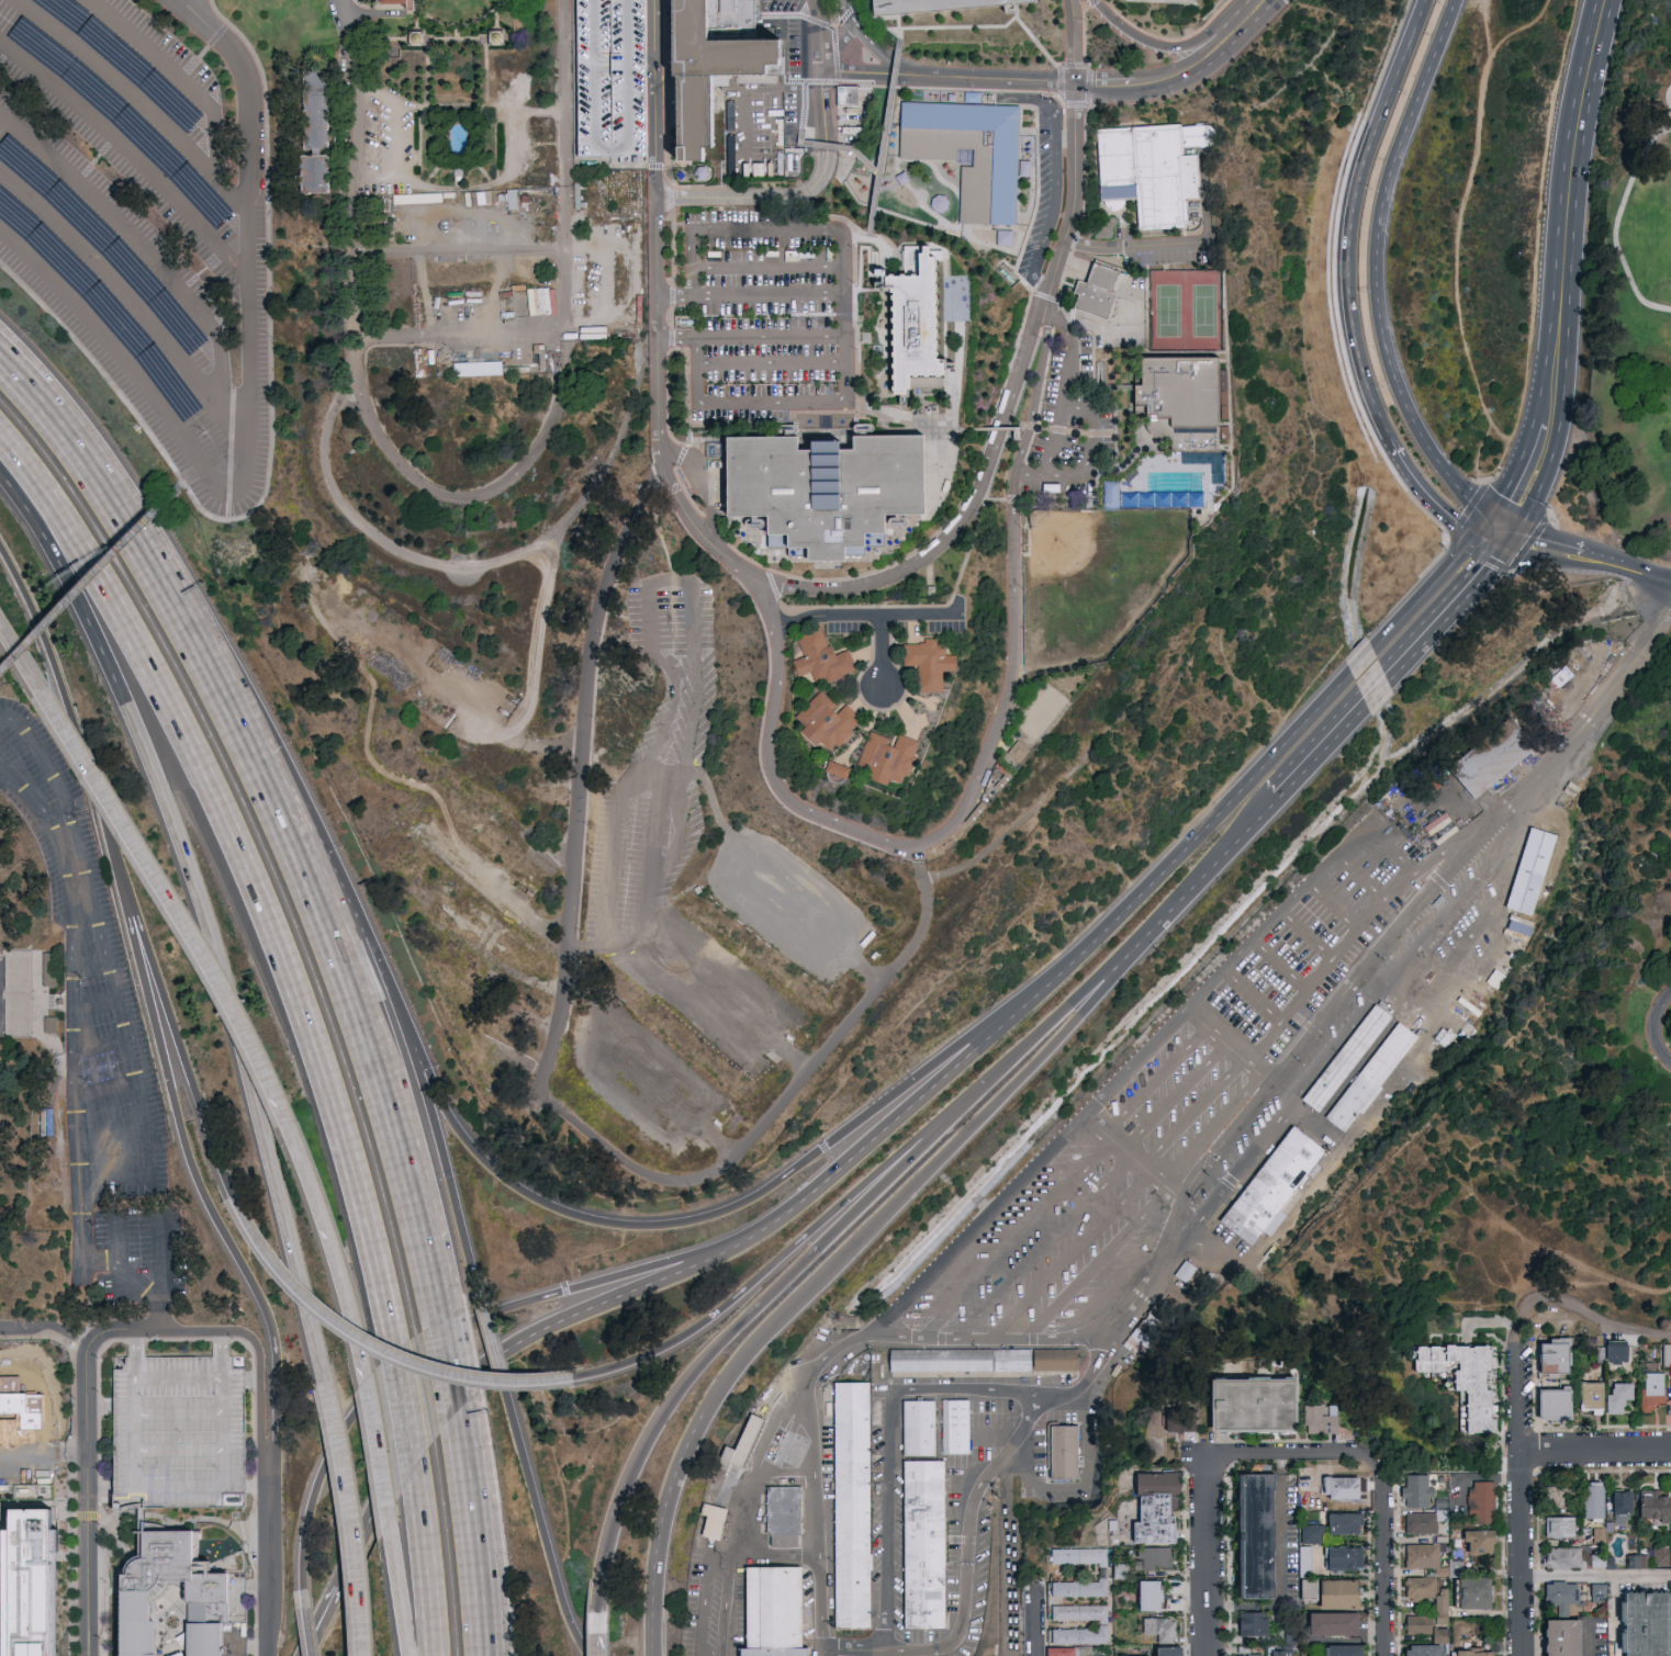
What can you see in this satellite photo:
road: (974, 2)
road: (935, 3)
road: (950, 5)
road: (391, 7)
building: (941, 7)
parking lot: (941, 7)
road: (191, 9)
road: (201, 9)
road: (1487, 19)
road: (502, 23)
road: (424, 24)
road: (899, 25)
road: (462, 26)
road: (820, 35)
road: (424, 42)
road: (871, 43)
road: (1158, 45)
road: (839, 49)
building: (710, 69)
road: (1180, 72)
road: (435, 75)
road: (485, 75)
road: (947, 76)
road: (124, 82)
building: (609, 85)
parking lot: (609, 85)
road: (564, 92)
road: (204, 94)
building: (843, 94)
road: (351, 97)
building: (971, 97)
road: (653, 99)
road: (452, 108)
building: (322, 134)
road: (883, 145)
road: (842, 151)
road: (1074, 151)
road: (135, 153)
road: (612, 153)
building: (995, 166)
building: (1023, 168)
building: (1156, 173)
road: (484, 183)
road: (795, 194)
road: (1622, 207)
road: (1350, 215)
parking lot: (126, 217)
road: (257, 225)
road: (1537, 227)
building: (725, 228)
road: (728, 234)
road: (846, 236)
building: (1001, 237)
road: (1133, 245)
road: (1460, 252)
road: (458, 255)
road: (569, 257)
road: (769, 266)
road: (348, 268)
road: (1567, 268)
road: (1373, 275)
building: (1096, 294)
road: (752, 297)
park: (1630, 315)
parking lot: (770, 319)
building: (916, 331)
road: (109, 336)
road: (459, 336)
road: (752, 338)
road: (775, 363)
building: (473, 368)
road: (224, 382)
road: (1064, 391)
road: (832, 401)
building: (1182, 405)
road: (658, 408)
road: (70, 413)
road: (240, 432)
road: (270, 435)
road: (64, 439)
road: (1088, 459)
road: (1500, 460)
road: (187, 477)
building: (825, 492)
road: (232, 494)
road: (1434, 498)
road: (467, 502)
traffic signals: (1514, 506)
road: (963, 514)
traffic signals: (1455, 518)
traffic signals: (1535, 549)
road: (1583, 560)
traffic signals: (1482, 565)
road: (480, 568)
road: (1571, 570)
road: (90, 579)
road: (176, 611)
park: (940, 617)
road: (866, 619)
road: (881, 653)
road: (22, 655)
building: (822, 661)
building: (928, 665)
road: (1394, 667)
road: (532, 681)
building: (829, 722)
road: (70, 724)
building: (888, 756)
road: (1268, 761)
road: (983, 766)
building: (838, 771)
road: (52, 776)
road: (657, 798)
road: (47, 830)
road: (323, 856)
road: (248, 861)
building: (1526, 870)
road: (1202, 874)
road: (1360, 877)
road: (170, 894)
road: (1331, 908)
road: (206, 915)
building: (1518, 924)
road: (1258, 933)
road: (1306, 935)
building: (1446, 944)
road: (1375, 954)
road: (87, 962)
road: (1117, 964)
road: (1280, 965)
road: (1328, 965)
building: (51, 967)
road: (71, 973)
road: (1253, 995)
road: (349, 1002)
road: (92, 1003)
building: (52, 1023)
road: (1657, 1027)
road: (122, 1037)
road: (98, 1044)
road: (410, 1044)
road: (1231, 1044)
road: (183, 1047)
parking lot: (99, 1051)
building: (1345, 1057)
road: (548, 1067)
road: (931, 1069)
building: (1371, 1078)
road: (943, 1081)
road: (1154, 1081)
road: (104, 1086)
road: (1173, 1096)
road: (1191, 1111)
road: (1210, 1126)
road: (111, 1130)
road: (834, 1152)
road: (1131, 1160)
road: (442, 1161)
road: (115, 1175)
building: (1271, 1186)
road: (79, 1196)
road: (214, 1208)
road: (782, 1215)
road: (604, 1220)
road: (977, 1226)
road: (333, 1237)
road: (1013, 1238)
road: (114, 1240)
road: (1042, 1248)
road: (162, 1252)
road: (1070, 1257)
road: (1094, 1263)
road: (637, 1270)
road: (789, 1270)
road: (766, 1271)
building: (1181, 1271)
road: (1588, 1284)
road: (642, 1285)
road: (818, 1286)
road: (570, 1303)
road: (164, 1309)
road: (1586, 1315)
road: (45, 1325)
road: (122, 1328)
road: (1495, 1328)
road: (490, 1329)
road: (200, 1331)
road: (377, 1342)
road: (137, 1343)
building: (1617, 1352)
building: (1667, 1353)
building: (1555, 1356)
building: (985, 1362)
road: (449, 1366)
road: (816, 1370)
road: (180, 1374)
building: (1463, 1378)
building: (1669, 1385)
road: (372, 1388)
building: (1651, 1390)
building: (1618, 1397)
building: (1592, 1399)
road: (36, 1400)
building: (1556, 1405)
road: (98, 1406)
road: (99, 1407)
building: (1254, 1407)
road: (179, 1411)
road: (405, 1411)
road: (263, 1418)
building: (1175, 1420)
building: (1322, 1421)
building: (9, 1423)
road: (436, 1423)
building: (954, 1427)
building: (920, 1429)
parking lot: (27, 1432)
building: (178, 1433)
parking lot: (178, 1433)
road: (463, 1444)
building: (742, 1444)
road: (887, 1444)
road: (1595, 1450)
road: (378, 1451)
road: (179, 1452)
building: (1064, 1453)
road: (1296, 1454)
road: (38, 1458)
road: (1451, 1462)
road: (756, 1464)
road: (191, 1487)
building: (1343, 1489)
road: (100, 1490)
building: (1417, 1491)
road: (1521, 1491)
building: (1556, 1497)
road: (87, 1499)
building: (1593, 1501)
building: (1481, 1502)
road: (973, 1505)
building: (851, 1507)
building: (1623, 1508)
building: (1656, 1508)
building: (1156, 1509)
building: (783, 1517)
road: (348, 1518)
building: (714, 1521)
building: (1346, 1524)
building: (1422, 1524)
building: (1560, 1528)
road: (543, 1533)
building: (1308, 1533)
building: (1257, 1536)
building: (1479, 1543)
building: (922, 1544)
building: (7, 1550)
road: (1384, 1554)
road: (1209, 1555)
building: (1423, 1556)
road: (489, 1557)
building: (1661, 1557)
road: (474, 1558)
building: (1565, 1558)
building: (1345, 1559)
building: (1669, 1559)
building: (1156, 1561)
building: (1629, 1561)
road: (1281, 1566)
road: (425, 1573)
building: (1103, 1574)
building: (1309, 1574)
road: (1595, 1577)
building: (43, 1578)
road: (273, 1587)
building: (1597, 1591)
road: (401, 1592)
building: (1477, 1593)
building: (1428, 1595)
building: (1152, 1596)
building: (1341, 1596)
building: (1563, 1597)
building: (211, 1602)
road: (708, 1609)
road: (253, 1612)
building: (775, 1612)
road: (317, 1615)
road: (327, 1618)
road: (1034, 1622)
road: (305, 1624)
building: (1254, 1624)
building: (1334, 1624)
building: (1648, 1625)
building: (1102, 1626)
building: (1424, 1627)
building: (1162, 1630)
building: (1562, 1638)
road: (598, 1646)
building: (1344, 1651)
building: (1425, 1651)
building: (1171, 1652)
building: (1069, 1653)
building: (1282, 1653)
building: (841, 1654)
building: (1473, 1654)
building: (1249, 1655)

